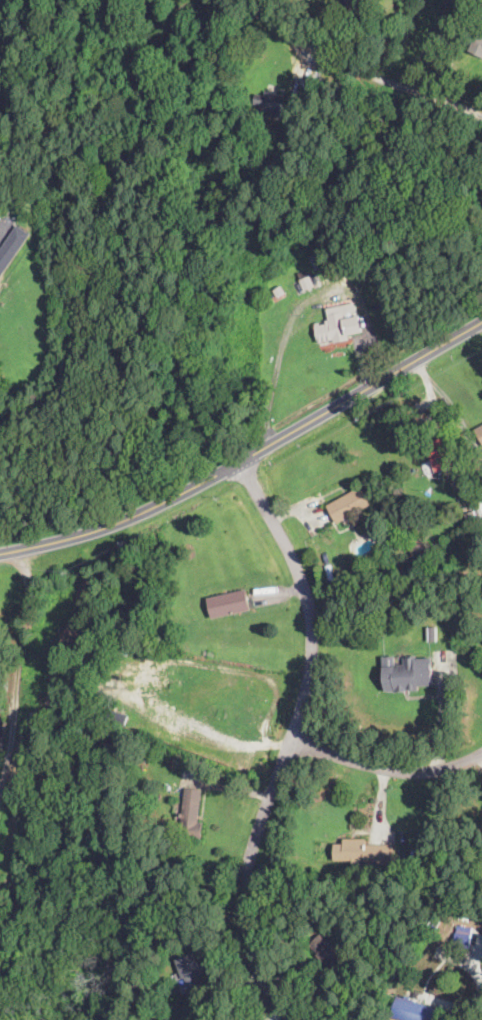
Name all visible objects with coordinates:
building: (365, 1)
building: (345, 4)
building: (477, 45)
road: (387, 82)
building: (270, 104)
road: (5, 223)
parking lot: (5, 228)
building: (12, 249)
building: (316, 258)
building: (305, 280)
building: (279, 291)
road: (304, 300)
building: (338, 330)
road: (455, 412)
road: (440, 413)
building: (480, 431)
road: (248, 456)
building: (437, 457)
building: (349, 505)
building: (472, 513)
building: (419, 557)
building: (229, 604)
building: (481, 634)
building: (433, 635)
building: (163, 637)
building: (25, 667)
road: (19, 668)
building: (407, 674)
road: (209, 731)
road: (289, 741)
road: (481, 756)
building: (140, 757)
road: (385, 769)
building: (191, 815)
building: (359, 852)
building: (410, 864)
building: (463, 937)
building: (328, 950)
building: (190, 971)
building: (412, 1010)

